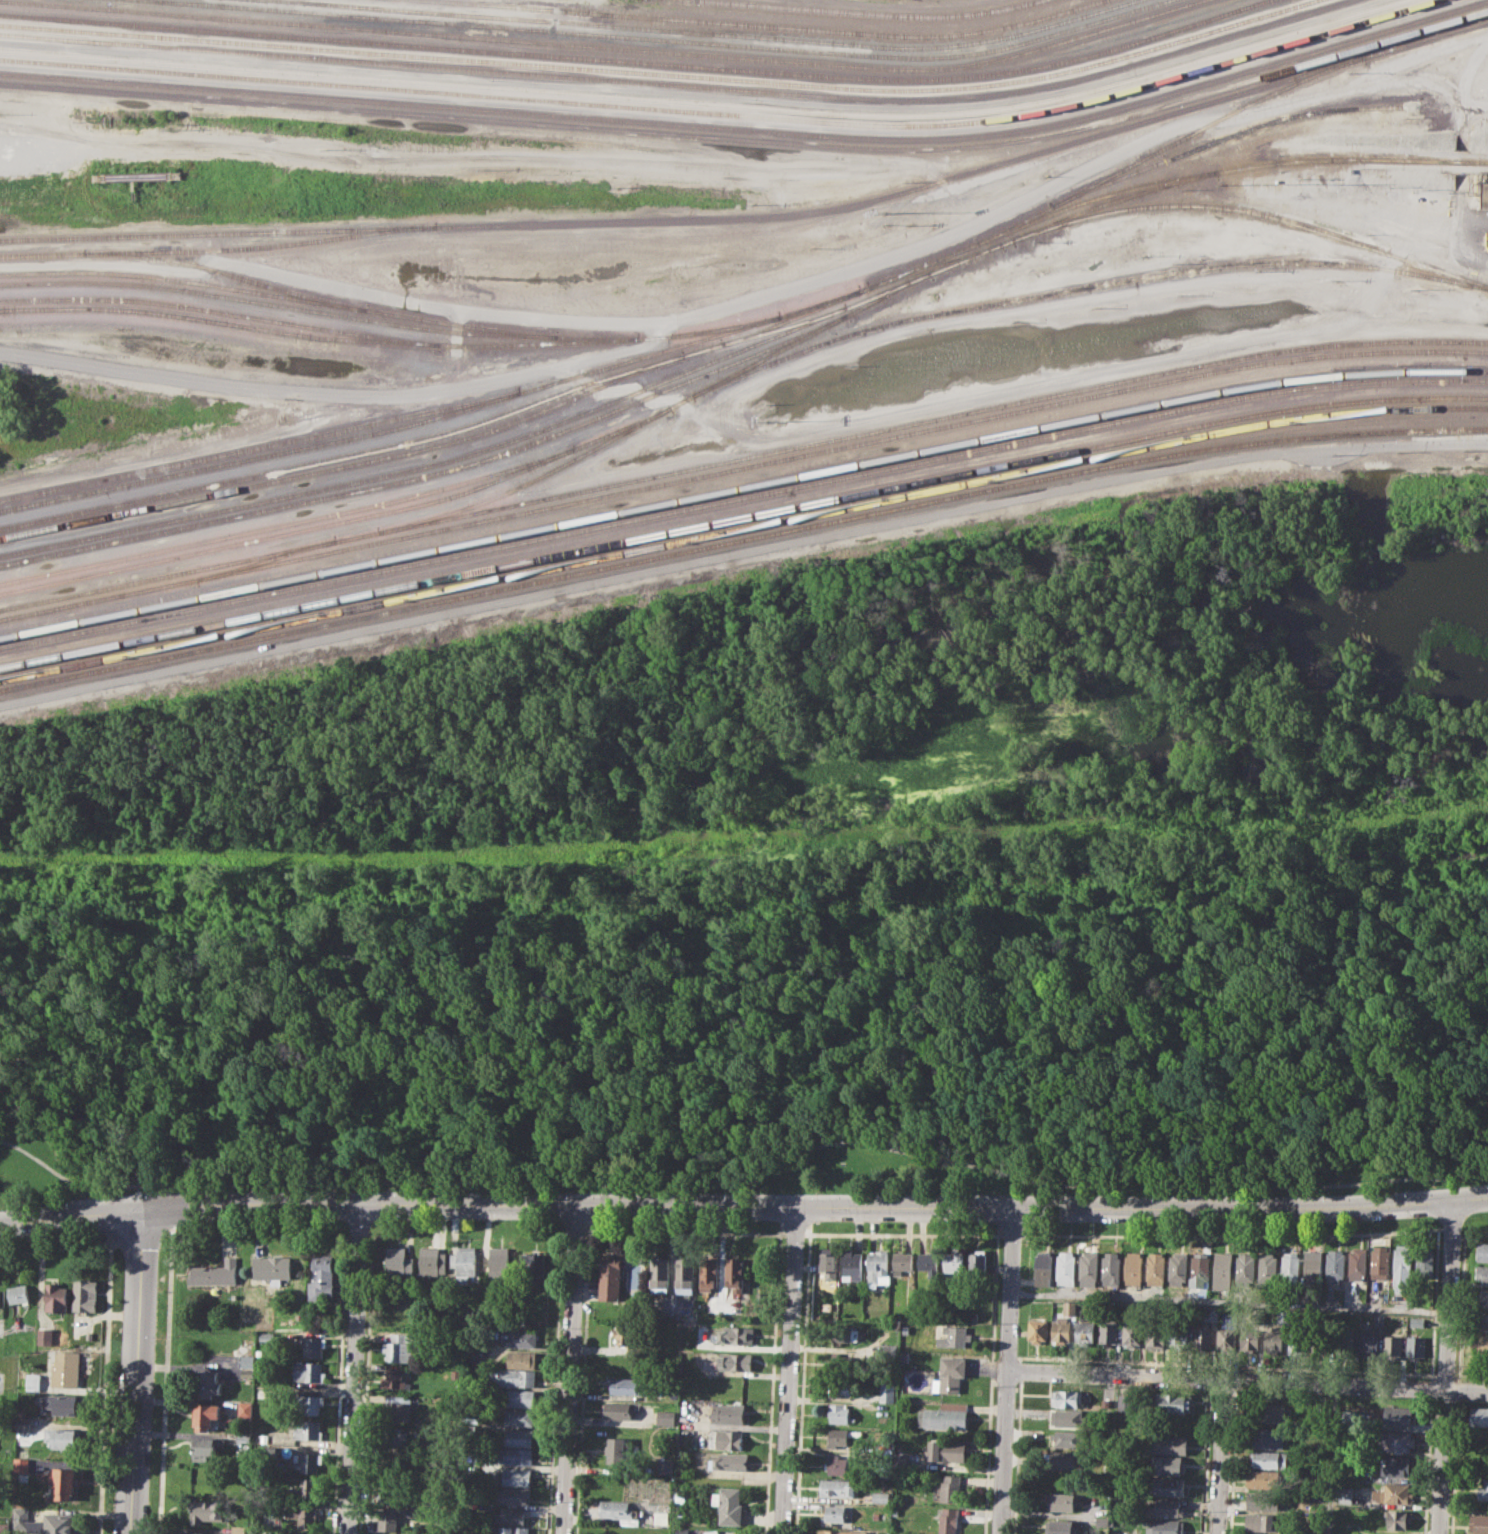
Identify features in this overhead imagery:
railway: (871, 12)
railway: (836, 19)
railway: (770, 24)
railway: (714, 32)
railway: (666, 39)
railway: (604, 46)
railway: (640, 63)
railway: (664, 74)
road: (1411, 81)
railway: (682, 84)
road: (1464, 92)
railway: (711, 102)
road: (1475, 106)
railway: (726, 112)
railway: (750, 129)
railway: (752, 139)
railway: (1218, 139)
railway: (1167, 144)
railway: (1427, 159)
road: (1461, 196)
building: (1486, 196)
railway: (1257, 213)
railway: (757, 217)
road: (1471, 244)
railway: (215, 248)
railway: (933, 260)
railway: (937, 264)
railway: (948, 264)
railway: (221, 271)
railway: (1089, 286)
road: (763, 296)
railway: (262, 303)
railway: (388, 312)
railway: (791, 316)
railway: (213, 321)
railway: (314, 328)
road: (286, 391)
road: (989, 395)
railway: (573, 397)
railway: (1354, 401)
railway: (658, 414)
railway: (253, 449)
railway: (345, 457)
railway: (254, 458)
railway: (742, 459)
railway: (434, 465)
railway: (741, 467)
railway: (430, 475)
railway: (742, 488)
railway: (232, 489)
railway: (742, 498)
railway: (338, 521)
railway: (289, 524)
railway: (742, 530)
railway: (741, 540)
railway: (610, 545)
railway: (268, 560)
park: (756, 1017)
road: (743, 1175)
road: (743, 1205)
road: (142, 1232)
road: (1450, 1232)
road: (794, 1233)
road: (806, 1233)
road: (1010, 1234)
road: (1230, 1235)
road: (1463, 1237)
road: (57, 1248)
building: (1482, 1250)
building: (1425, 1259)
building: (399, 1261)
building: (499, 1261)
building: (1380, 1261)
building: (464, 1262)
building: (901, 1262)
building: (976, 1262)
building: (433, 1263)
building: (928, 1263)
building: (953, 1263)
building: (1357, 1263)
building: (535, 1264)
building: (829, 1264)
building: (851, 1264)
building: (1334, 1264)
building: (1402, 1264)
building: (876, 1266)
building: (1312, 1266)
building: (273, 1267)
building: (1178, 1267)
building: (1044, 1268)
building: (1066, 1268)
building: (1089, 1268)
building: (1110, 1268)
building: (1134, 1268)
building: (1246, 1268)
building: (1268, 1268)
building: (1290, 1268)
building: (1156, 1269)
building: (1200, 1269)
building: (1223, 1270)
building: (216, 1273)
building: (659, 1274)
building: (684, 1274)
building: (709, 1274)
building: (1482, 1274)
building: (735, 1275)
building: (322, 1277)
building: (610, 1277)
road: (587, 1285)
road: (806, 1287)
building: (17, 1292)
building: (83, 1297)
building: (56, 1298)
building: (1481, 1298)
road: (1229, 1300)
building: (1069, 1307)
road: (1460, 1308)
building: (1211, 1313)
building: (974, 1315)
building: (1284, 1316)
building: (1378, 1319)
building: (1416, 1322)
building: (1482, 1322)
building: (1061, 1327)
building: (1084, 1330)
building: (1227, 1330)
building: (1037, 1331)
building: (1108, 1331)
building: (1179, 1331)
building: (1250, 1333)
building: (630, 1334)
building: (737, 1334)
building: (841, 1334)
building: (1132, 1334)
building: (90, 1335)
building: (954, 1335)
building: (1156, 1335)
building: (44, 1336)
building: (267, 1336)
building: (1202, 1337)
building: (1307, 1337)
building: (521, 1338)
building: (1279, 1338)
building: (1326, 1338)
building: (1345, 1343)
building: (1368, 1343)
building: (1481, 1344)
building: (313, 1345)
building: (1392, 1346)
building: (1415, 1346)
building: (400, 1347)
building: (887, 1350)
building: (904, 1355)
building: (521, 1358)
building: (842, 1359)
building: (246, 1360)
building: (736, 1360)
road: (1445, 1366)
building: (64, 1368)
road: (354, 1368)
road: (570, 1369)
road: (789, 1369)
road: (136, 1370)
road: (1006, 1370)
building: (311, 1372)
building: (246, 1373)
building: (476, 1373)
building: (951, 1374)
building: (516, 1378)
building: (393, 1379)
road: (1247, 1379)
road: (164, 1380)
building: (31, 1381)
building: (208, 1383)
road: (773, 1383)
building: (628, 1384)
building: (841, 1384)
road: (990, 1384)
road: (338, 1385)
road: (364, 1385)
road: (1457, 1388)
building: (886, 1391)
building: (262, 1392)
building: (518, 1397)
building: (1066, 1397)
building: (1173, 1402)
building: (66, 1404)
building: (309, 1404)
building: (396, 1407)
building: (244, 1408)
building: (617, 1409)
building: (840, 1412)
building: (1269, 1412)
building: (729, 1413)
building: (1399, 1414)
building: (205, 1415)
building: (1479, 1415)
building: (666, 1416)
building: (943, 1416)
building: (1065, 1416)
building: (519, 1417)
building: (21, 1423)
building: (305, 1428)
building: (261, 1435)
building: (518, 1436)
building: (838, 1436)
building: (63, 1437)
building: (393, 1437)
building: (243, 1438)
building: (1066, 1438)
building: (1265, 1438)
building: (730, 1439)
building: (1394, 1439)
building: (424, 1444)
building: (1169, 1444)
building: (206, 1447)
building: (944, 1450)
building: (618, 1451)
building: (265, 1452)
building: (515, 1455)
road: (1220, 1456)
road: (1328, 1458)
building: (1066, 1459)
building: (1268, 1459)
building: (902, 1460)
building: (307, 1461)
building: (732, 1461)
building: (837, 1463)
building: (21, 1464)
building: (1168, 1464)
building: (1395, 1465)
road: (1453, 1465)
building: (665, 1466)
building: (391, 1468)
building: (514, 1475)
building: (1263, 1478)
building: (62, 1481)
building: (1167, 1486)
building: (838, 1487)
building: (950, 1487)
building: (306, 1488)
building: (1483, 1489)
building: (392, 1493)
building: (1342, 1493)
building: (1392, 1493)
building: (512, 1494)
building: (681, 1495)
building: (880, 1496)
building: (1260, 1500)
building: (1063, 1501)
building: (730, 1505)
building: (1166, 1507)
building: (619, 1509)
building: (206, 1511)
building: (680, 1512)
building: (834, 1513)
building: (512, 1515)
building: (302, 1516)
building: (661, 1517)
building: (1398, 1517)
building: (21, 1518)
building: (387, 1520)
building: (948, 1520)
building: (1103, 1520)
building: (1259, 1522)
building: (61, 1523)
building: (1480, 1523)
building: (1060, 1526)
building: (1166, 1527)
building: (4, 1528)
building: (239, 1529)
building: (514, 1530)
building: (682, 1530)
building: (841, 1531)
building: (1121, 1531)
building: (195, 1533)
building: (306, 1533)
building: (1258, 1533)

